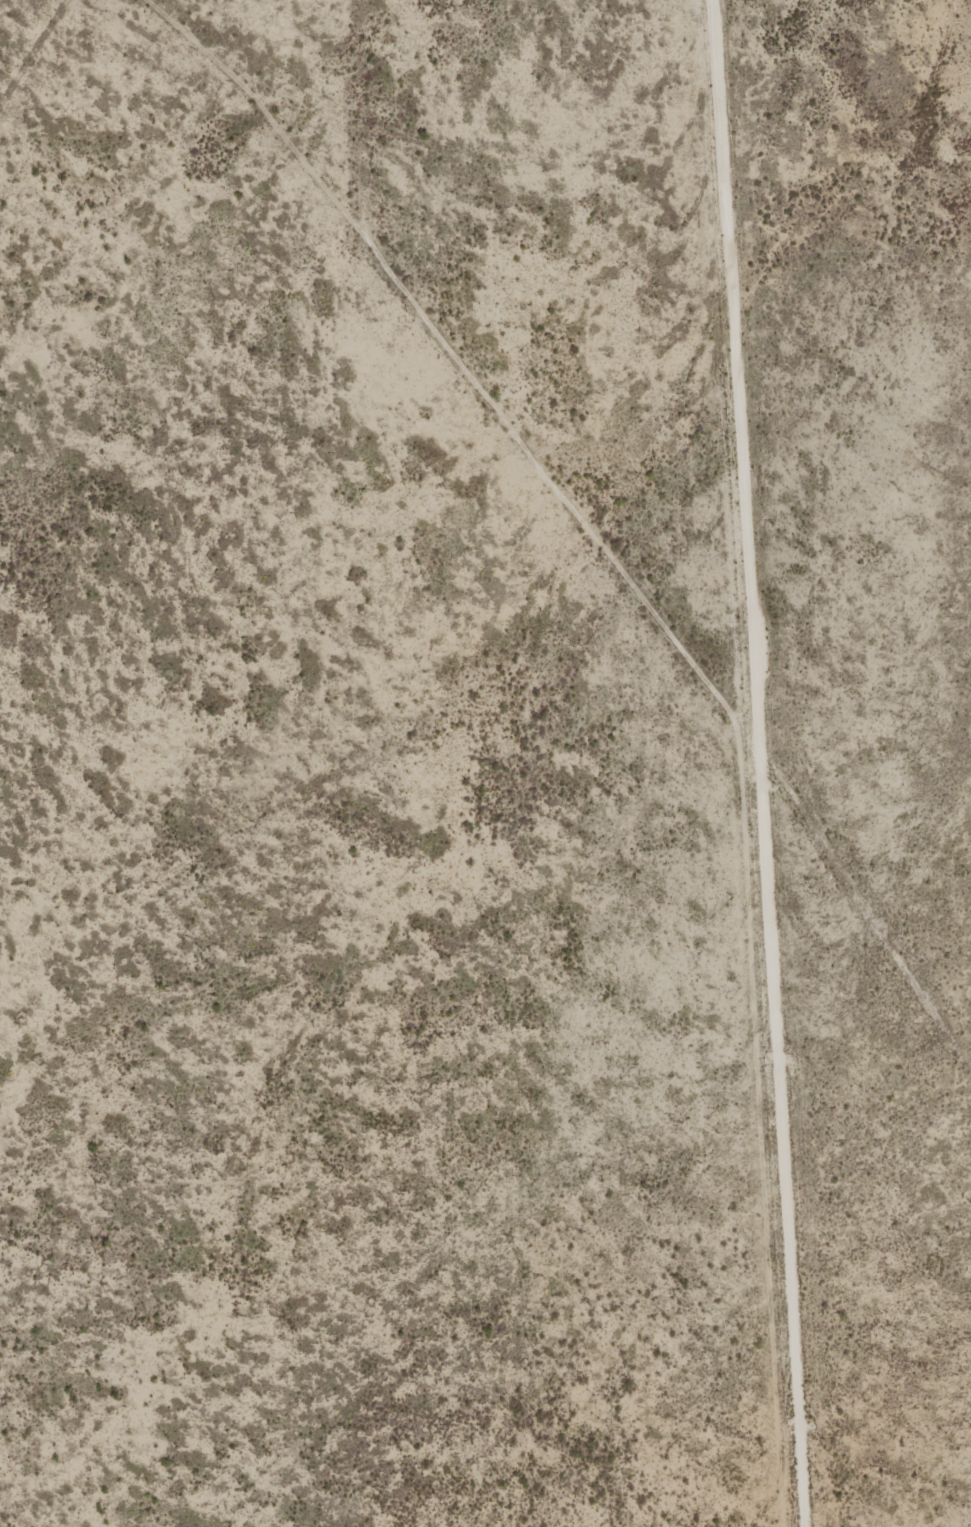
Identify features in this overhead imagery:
road: (757, 763)

